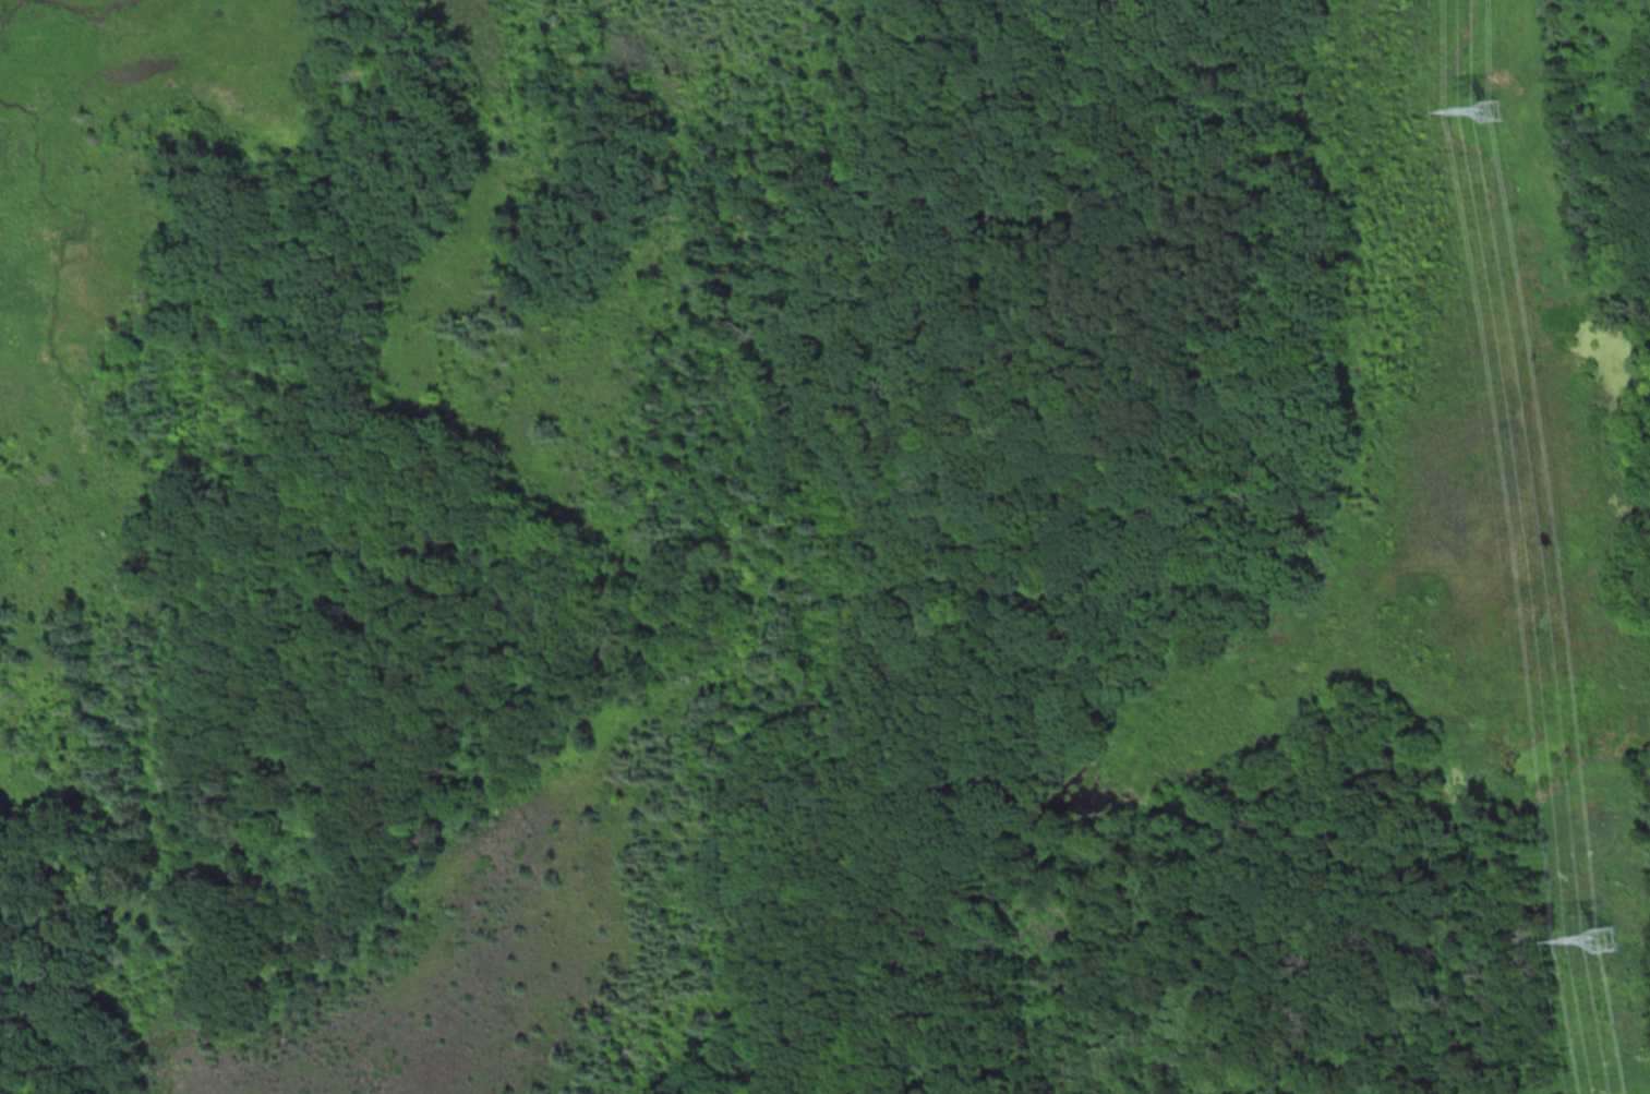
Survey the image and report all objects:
power tower: (1489, 109)
park: (804, 557)
building: (1603, 939)
power tower: (1603, 939)

